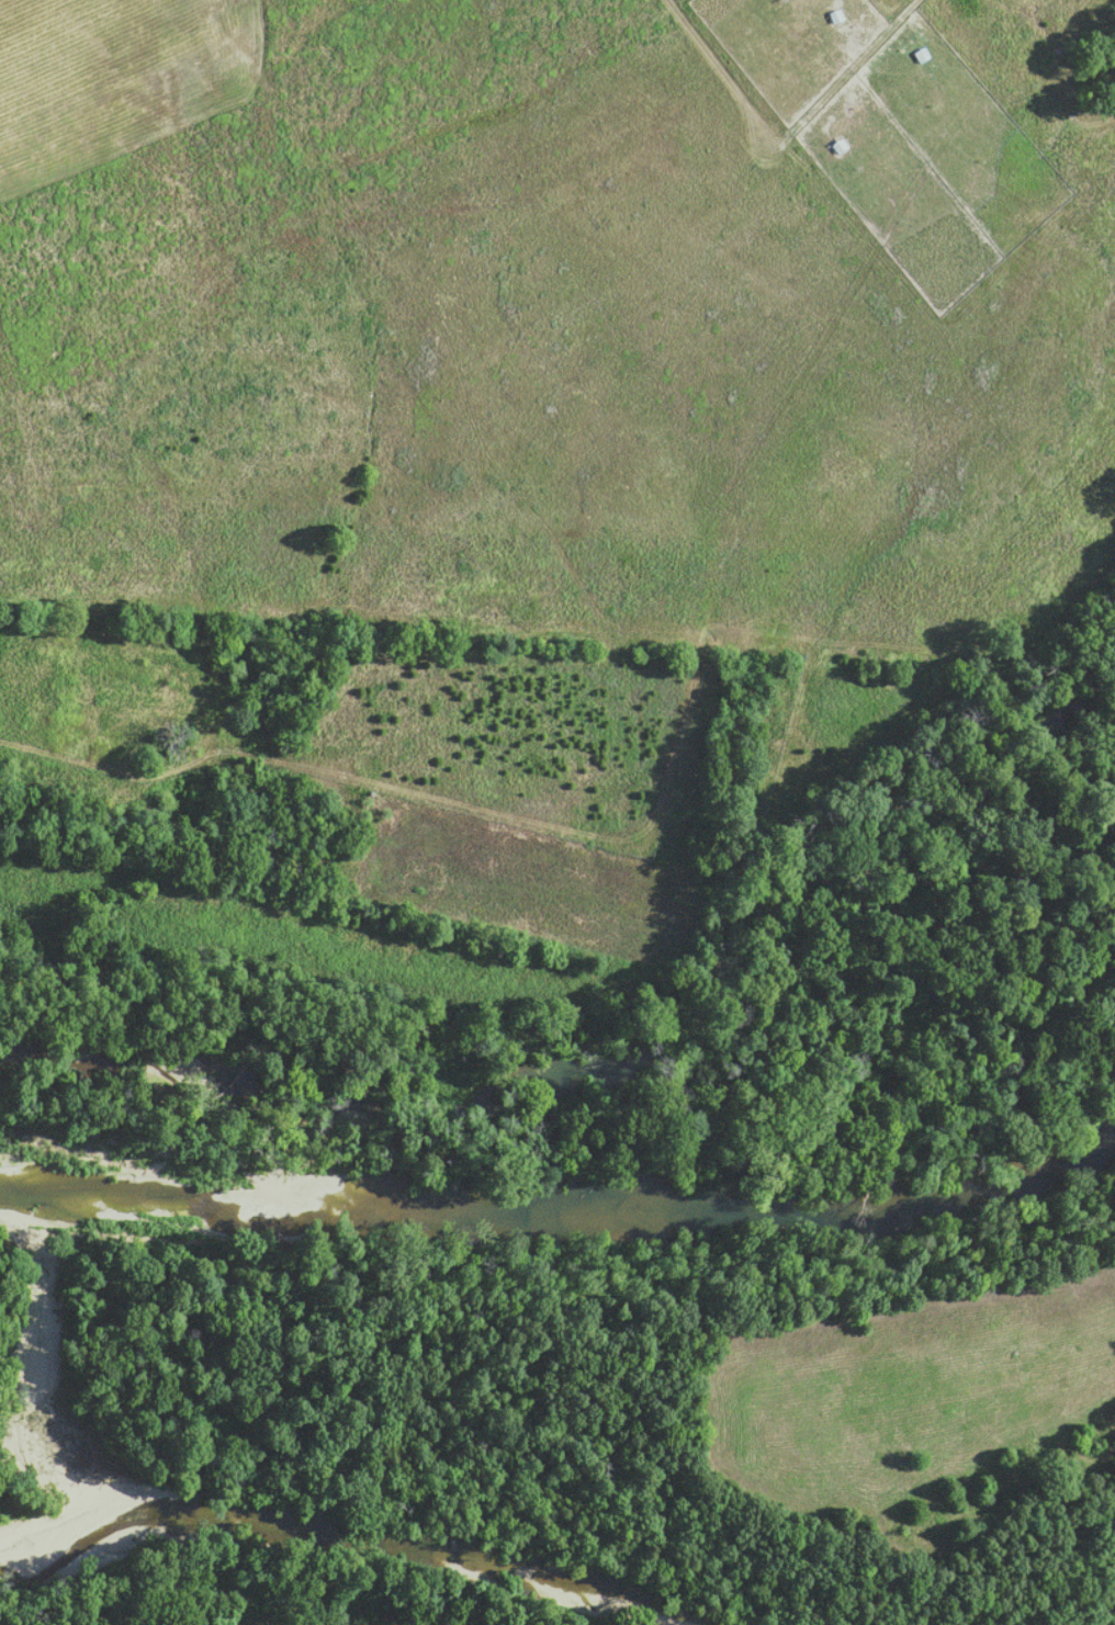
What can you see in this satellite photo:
river: (557, 1210)

